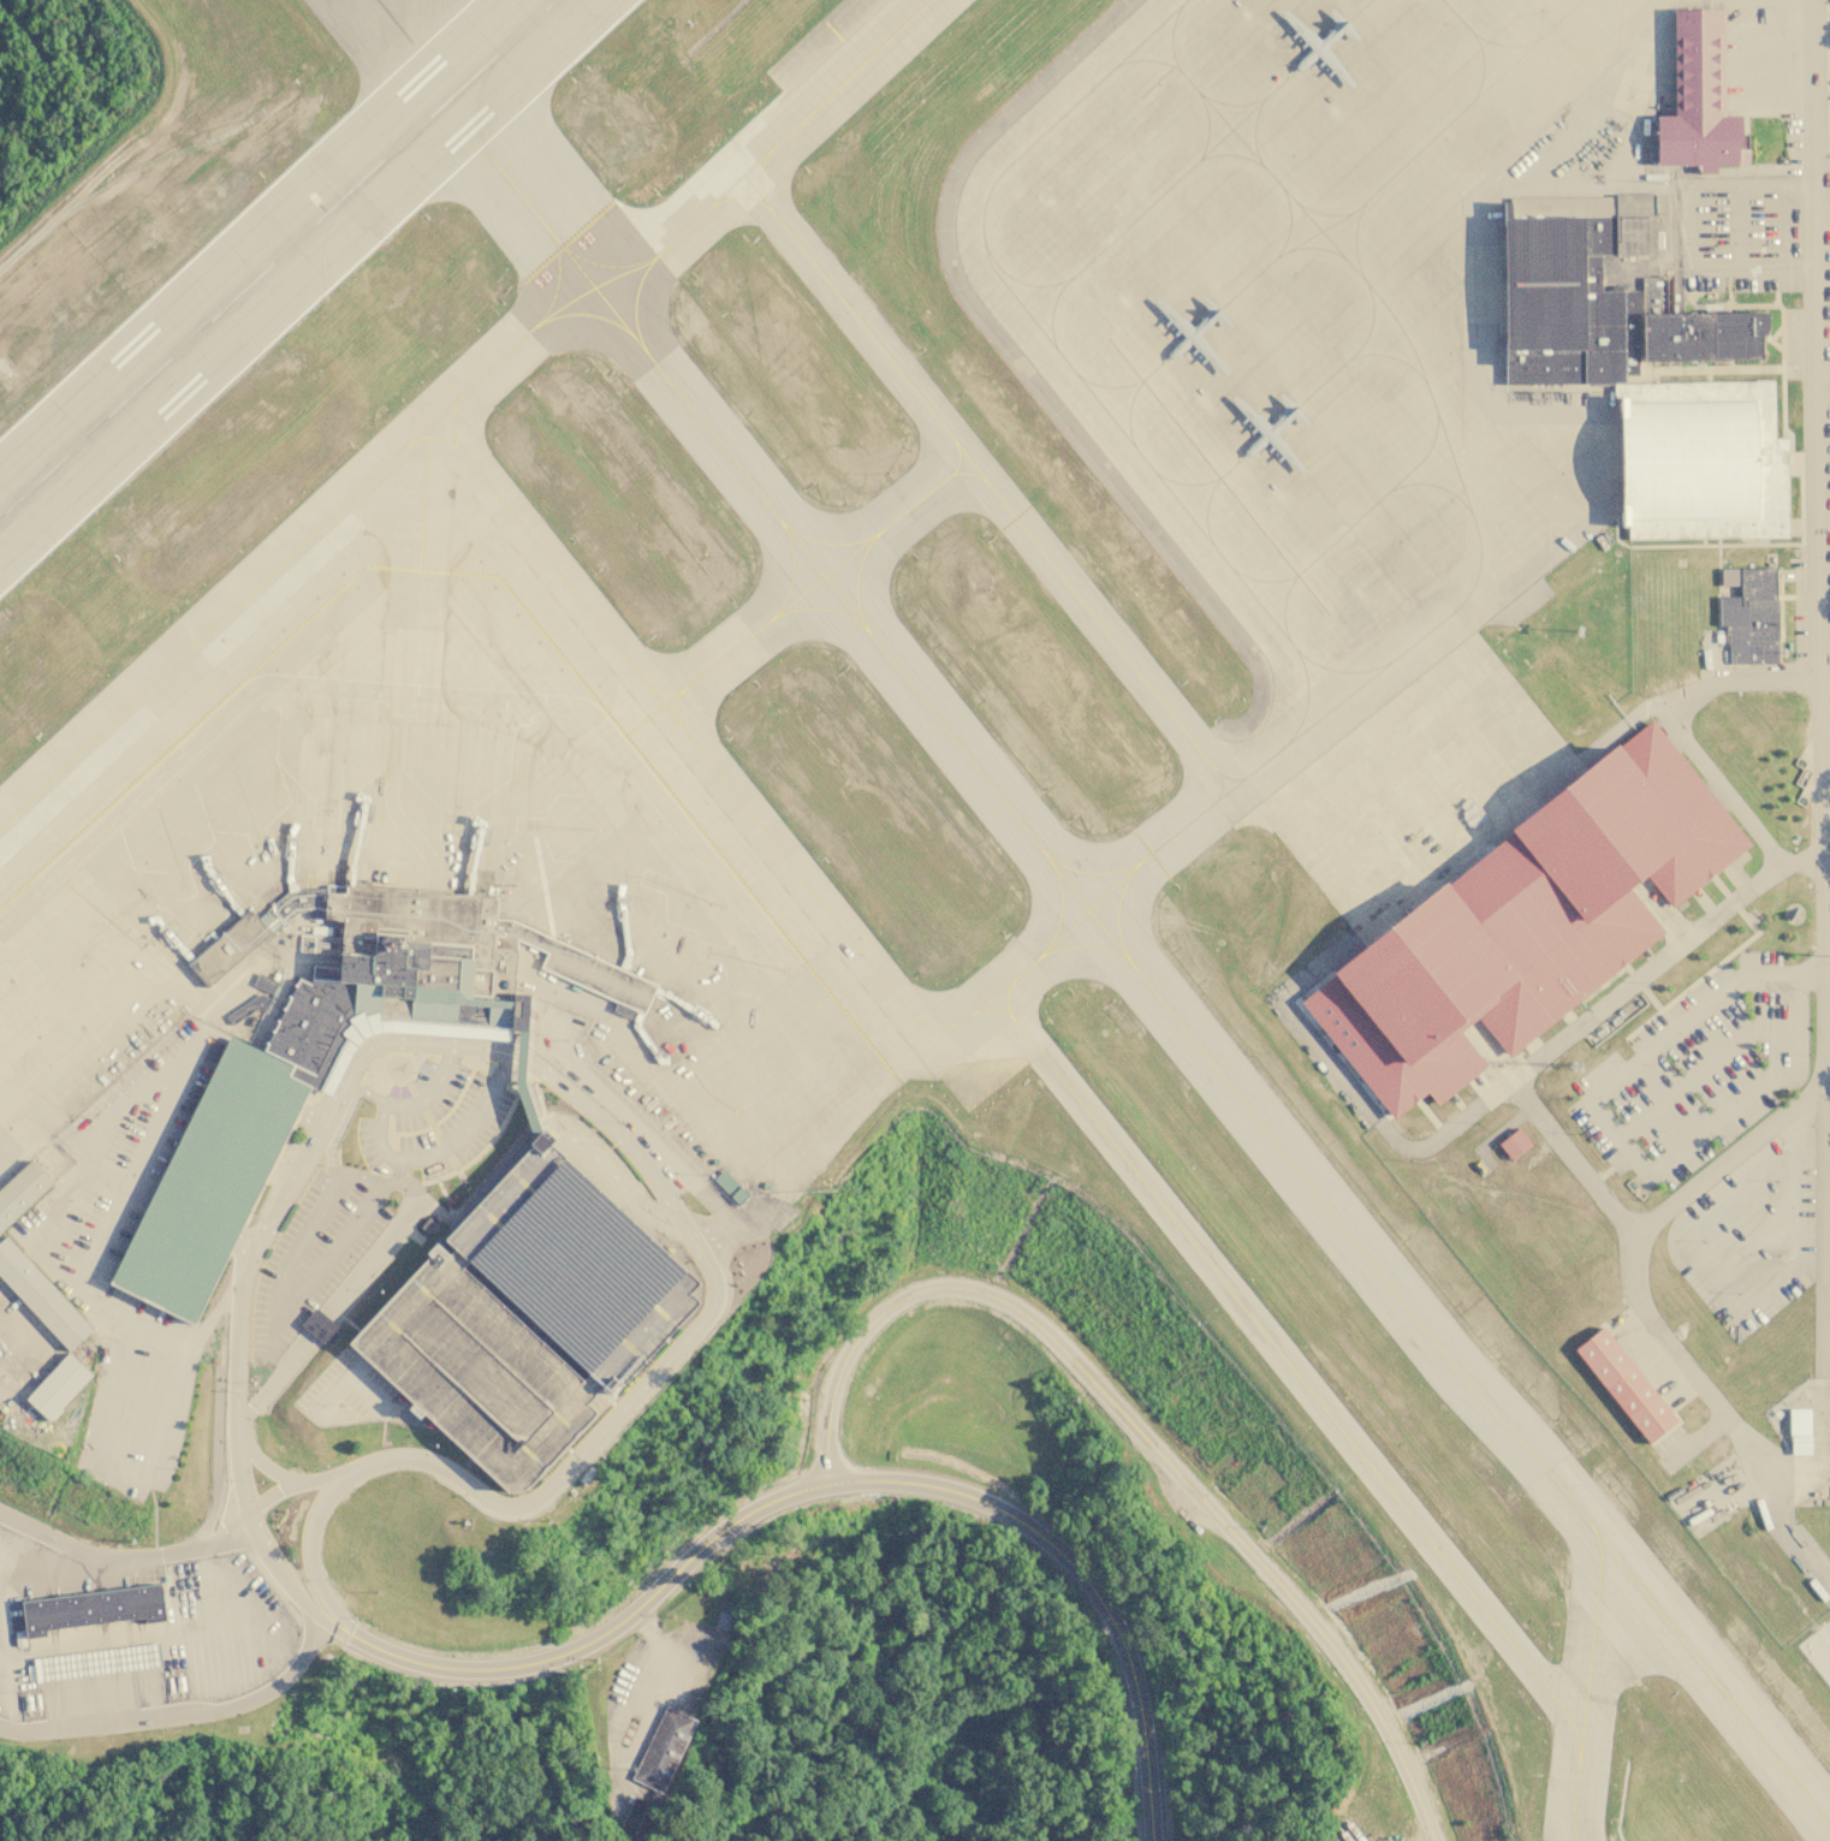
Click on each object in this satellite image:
airport taxiway: (671, 87)
airport taxiway: (836, 88)
building: (1695, 100)
airport taxiway: (480, 144)
road: (1691, 226)
road: (1740, 226)
road: (1783, 226)
airport taxiway: (669, 234)
airport runway: (279, 257)
airport hangar: (1539, 284)
building: (1539, 284)
building: (1624, 302)
airport taxiway: (358, 338)
airport apron: (1333, 363)
airport hangar: (1685, 461)
building: (1685, 461)
airport taxiway: (374, 475)
building: (1770, 480)
airport taxiway: (986, 482)
road: (1816, 486)
airport taxiway: (426, 497)
road: (1823, 517)
airport taxiway: (898, 519)
airport taxiway: (547, 563)
airport taxiway: (842, 596)
airport taxiway: (107, 610)
building: (1747, 613)
airport taxiway: (724, 655)
road: (1670, 724)
airport taxiway: (82, 748)
airport taxiway: (1195, 820)
airport: (919, 868)
airport taxiway: (794, 869)
airport apron: (429, 885)
building: (1523, 921)
airport terminal: (409, 968)
building: (409, 968)
airport taxiway: (1014, 975)
building: (624, 1010)
road: (1579, 1021)
parking lot: (1699, 1069)
road: (1703, 1070)
road: (144, 1086)
road: (521, 1088)
road: (412, 1103)
road: (1368, 1111)
road: (311, 1118)
parking lot: (433, 1120)
road: (1620, 1139)
building: (1514, 1142)
road: (442, 1146)
road: (671, 1158)
road: (111, 1177)
building: (214, 1181)
parking lot: (214, 1181)
road: (620, 1184)
building: (730, 1186)
building: (22, 1193)
road: (281, 1201)
airport taxiway: (1343, 1229)
road: (1638, 1236)
road: (246, 1247)
parking lot: (316, 1252)
parking lot: (76, 1258)
road: (343, 1293)
building: (42, 1295)
road: (277, 1322)
building: (447, 1323)
parking lot: (447, 1323)
building: (319, 1324)
road: (671, 1355)
road: (338, 1383)
building: (1624, 1384)
building: (61, 1386)
road: (367, 1392)
parking lot: (351, 1394)
airport taxiway: (1321, 1406)
road: (1137, 1431)
building: (1800, 1431)
road: (266, 1466)
road: (141, 1479)
road: (291, 1485)
road: (828, 1485)
road: (309, 1540)
road: (124, 1556)
road: (279, 1576)
building: (96, 1610)
airport taxiway: (1593, 1638)
building: (97, 1663)
airport taxiway: (1716, 1686)
road: (184, 1715)
building: (664, 1748)
building: (640, 1818)

